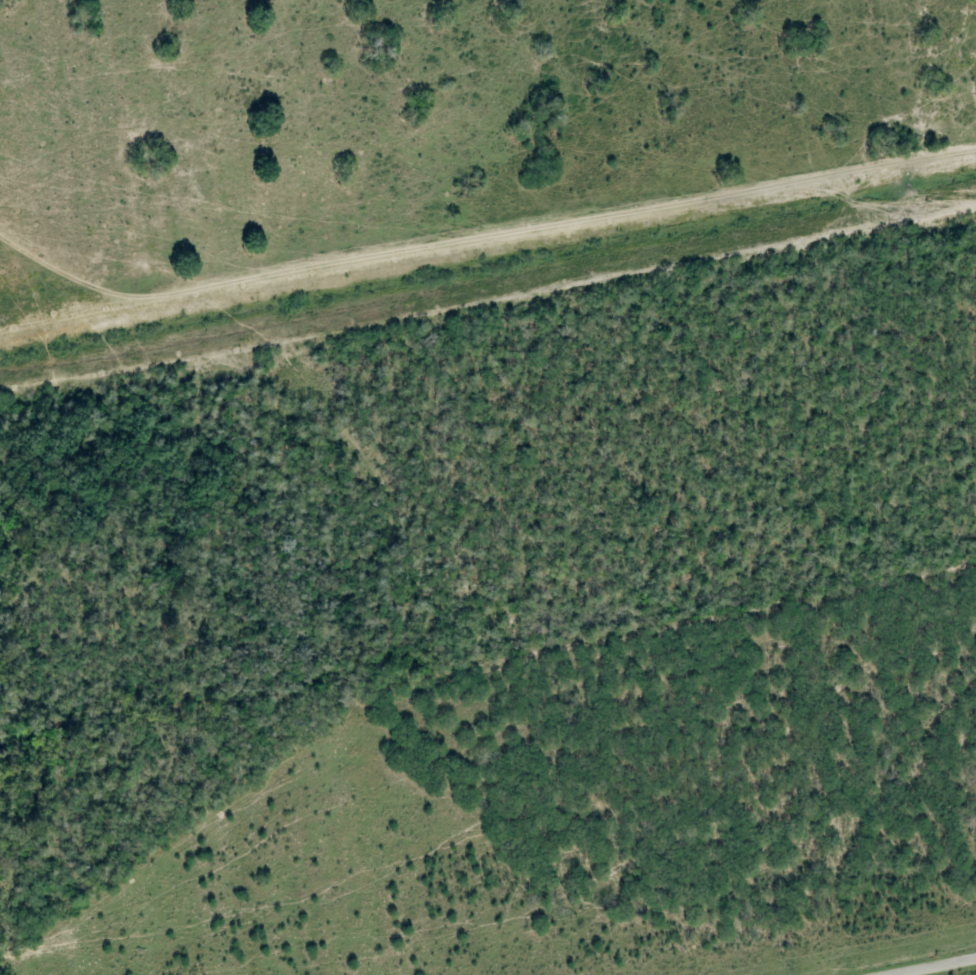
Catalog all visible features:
road: (929, 965)

